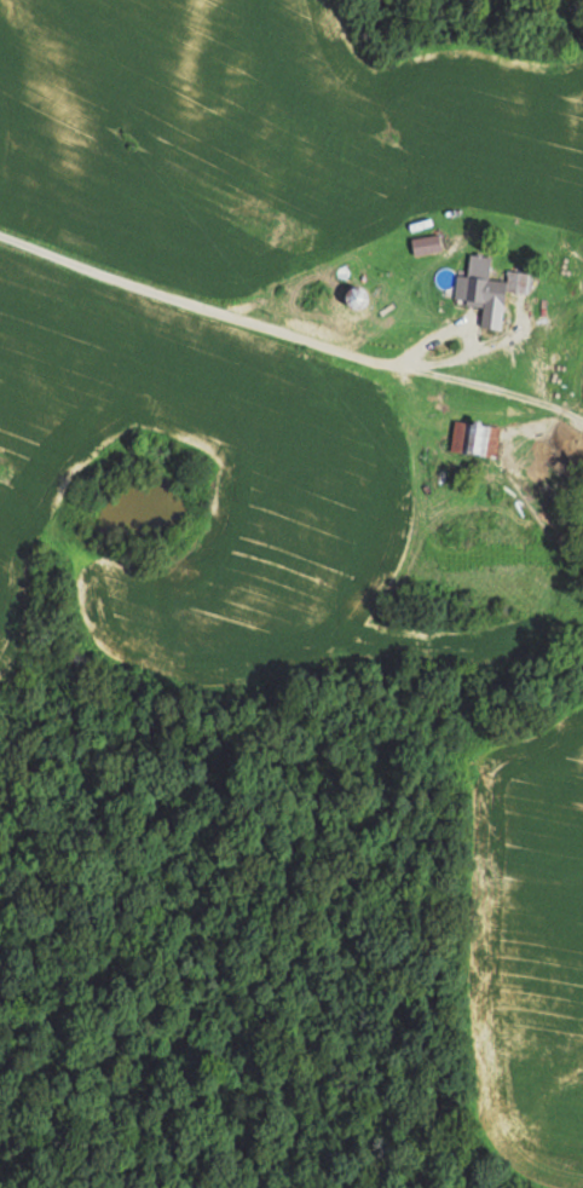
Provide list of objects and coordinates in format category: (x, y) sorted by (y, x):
building: (471, 236)
building: (523, 279)
building: (473, 289)
road: (215, 348)
building: (473, 438)

